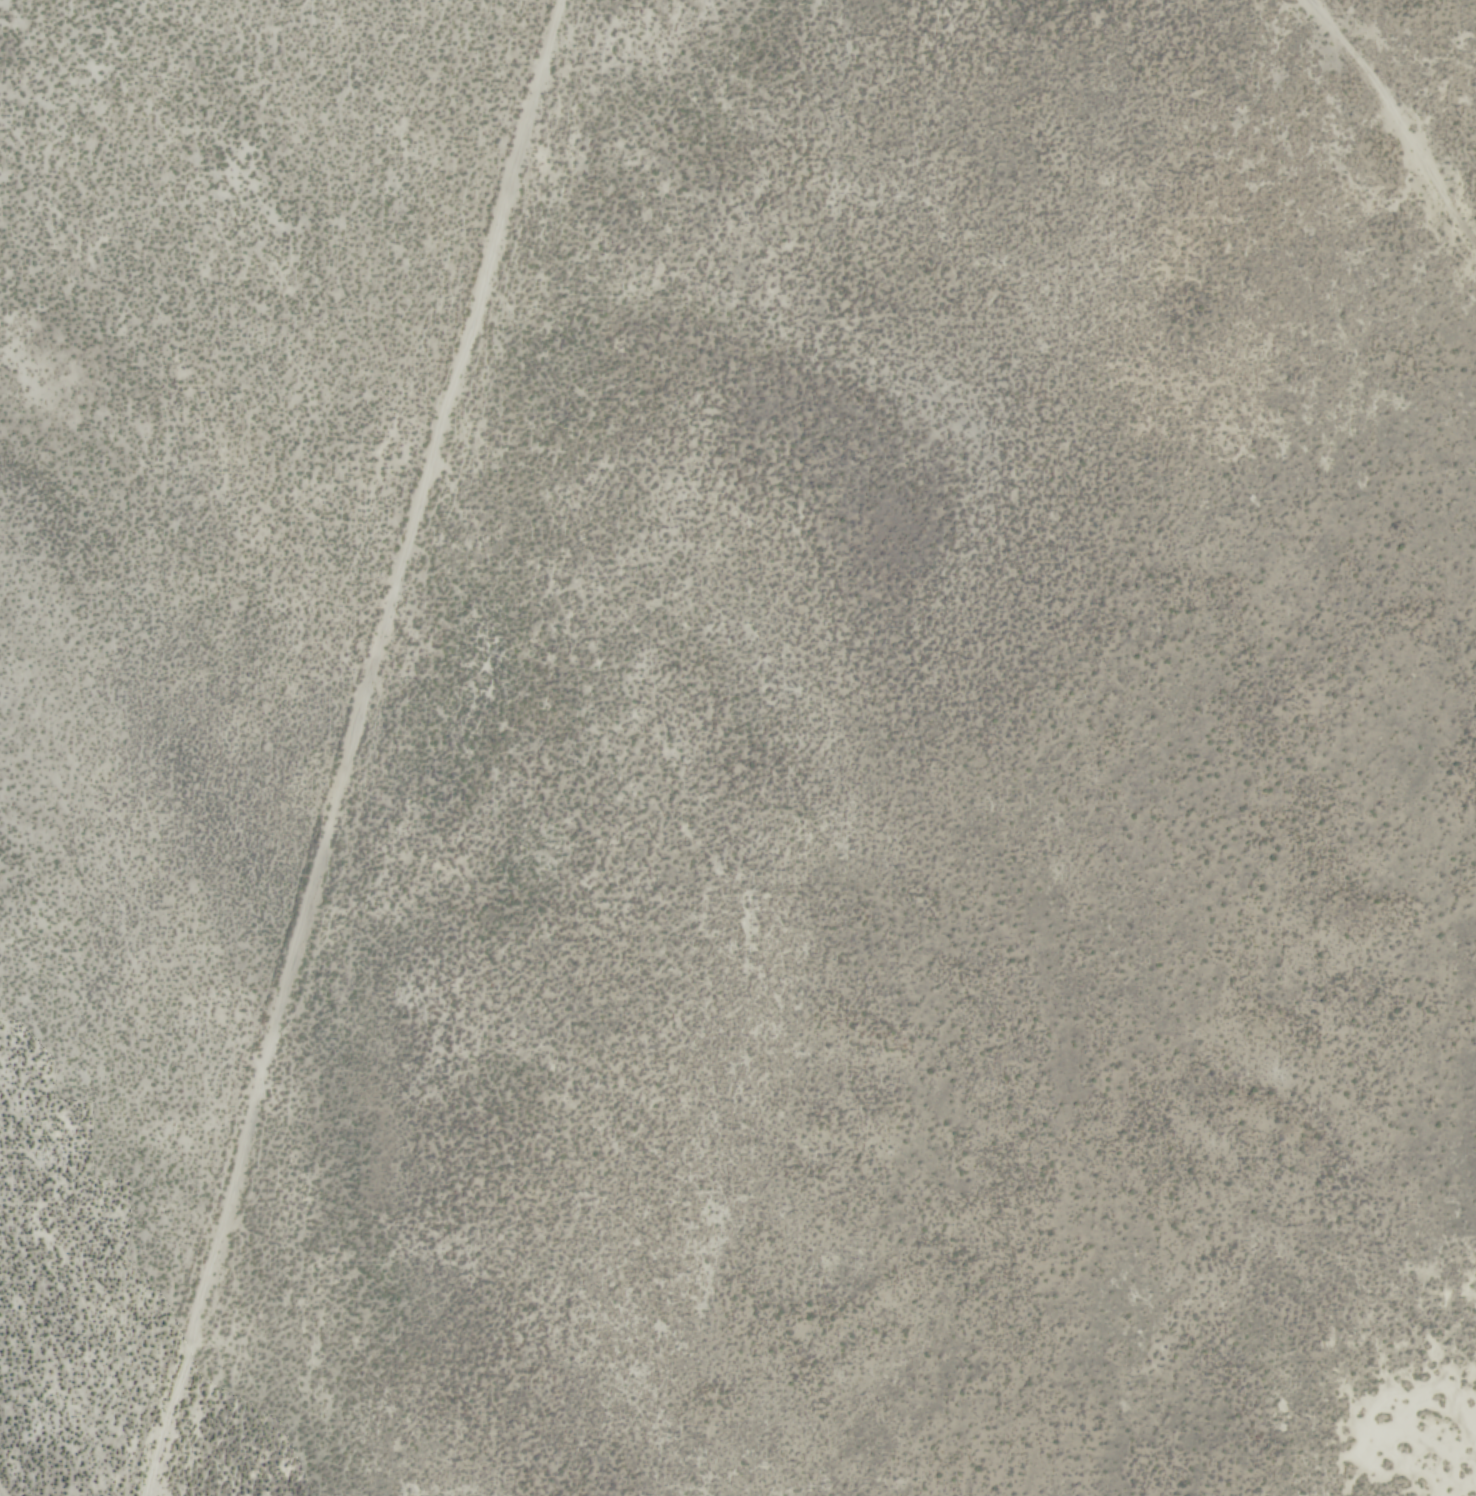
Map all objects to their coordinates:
road: (1381, 131)
road: (380, 750)

